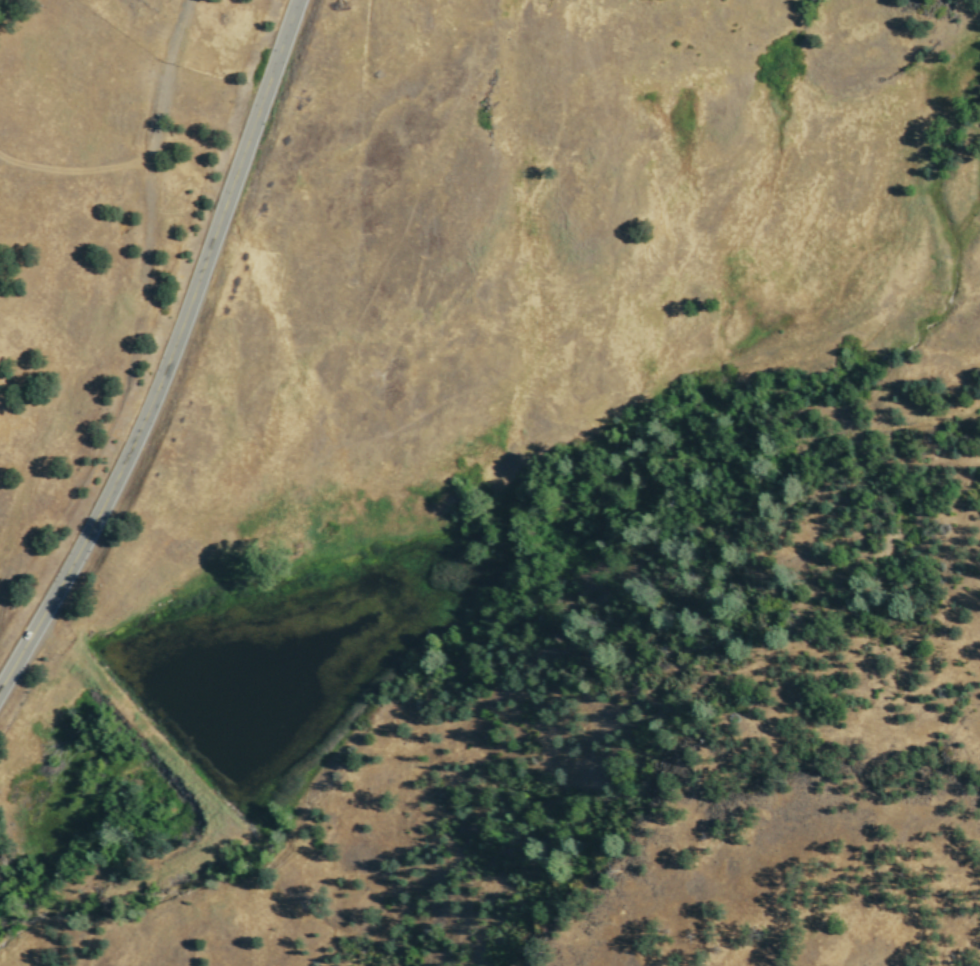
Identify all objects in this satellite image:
road: (78, 168)
road: (167, 352)

